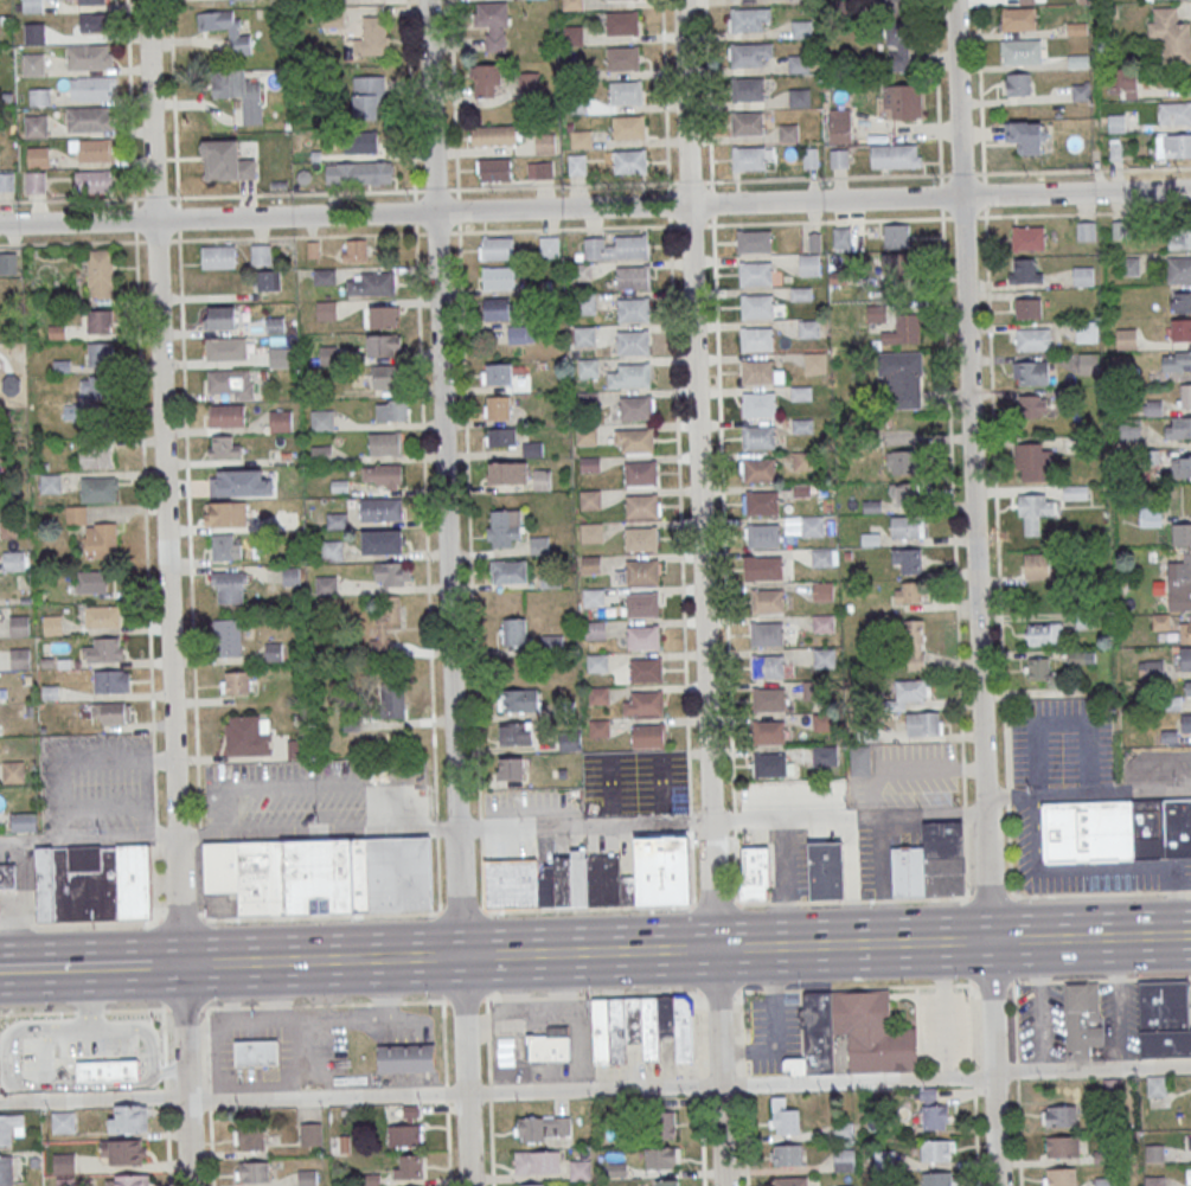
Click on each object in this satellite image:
building: (314, 0)
building: (800, 1)
building: (91, 2)
building: (572, 5)
building: (891, 5)
building: (33, 6)
building: (332, 19)
building: (747, 19)
building: (1017, 19)
building: (92, 21)
building: (621, 23)
building: (492, 24)
building: (801, 30)
building: (233, 32)
building: (34, 33)
building: (1171, 33)
building: (574, 36)
building: (898, 36)
building: (372, 37)
building: (1020, 51)
building: (745, 55)
building: (622, 57)
building: (89, 58)
building: (901, 60)
building: (1077, 60)
building: (33, 64)
building: (799, 64)
building: (484, 81)
building: (529, 81)
building: (1017, 84)
road: (980, 85)
building: (1128, 85)
building: (95, 88)
building: (748, 89)
building: (1080, 91)
building: (239, 92)
building: (626, 92)
building: (39, 97)
building: (369, 97)
road: (454, 98)
building: (800, 98)
road: (410, 100)
building: (903, 101)
road: (666, 103)
building: (577, 105)
road: (939, 108)
building: (1174, 114)
building: (83, 118)
building: (747, 123)
building: (36, 126)
building: (627, 127)
building: (839, 130)
building: (789, 134)
building: (493, 135)
building: (1025, 136)
building: (582, 140)
building: (360, 141)
building: (545, 143)
building: (1173, 146)
building: (91, 149)
building: (895, 155)
building: (38, 158)
building: (749, 158)
building: (838, 158)
building: (226, 161)
building: (629, 161)
building: (577, 165)
building: (495, 171)
building: (539, 171)
building: (359, 172)
road: (929, 174)
building: (6, 181)
building: (36, 181)
building: (92, 181)
road: (557, 185)
road: (435, 188)
road: (211, 195)
road: (595, 209)
road: (457, 210)
road: (415, 211)
road: (824, 220)
building: (1086, 230)
road: (436, 232)
road: (454, 232)
building: (896, 235)
building: (840, 238)
building: (1027, 238)
building: (1179, 238)
road: (212, 239)
building: (754, 241)
building: (549, 245)
building: (499, 248)
building: (616, 248)
building: (354, 250)
building: (261, 254)
building: (218, 256)
building: (8, 263)
building: (811, 265)
building: (1134, 265)
building: (1024, 270)
building: (100, 273)
building: (581, 273)
building: (756, 273)
building: (903, 273)
building: (324, 276)
building: (1083, 276)
building: (499, 277)
building: (633, 277)
building: (268, 280)
building: (370, 283)
building: (587, 304)
building: (758, 306)
building: (498, 308)
building: (633, 308)
building: (1027, 308)
building: (326, 310)
building: (384, 316)
building: (220, 318)
building: (98, 321)
building: (809, 329)
building: (903, 329)
building: (1180, 329)
building: (1087, 331)
building: (521, 334)
building: (584, 336)
building: (757, 338)
building: (1126, 338)
building: (1032, 339)
building: (633, 342)
building: (385, 345)
building: (226, 350)
building: (100, 354)
building: (278, 355)
building: (1177, 361)
building: (815, 364)
building: (1088, 364)
building: (589, 370)
building: (756, 372)
building: (1030, 372)
building: (497, 373)
building: (633, 376)
building: (382, 377)
building: (903, 378)
building: (231, 384)
building: (91, 386)
building: (801, 393)
building: (1185, 396)
building: (589, 402)
building: (757, 404)
building: (1032, 405)
building: (498, 406)
building: (635, 406)
building: (392, 410)
building: (83, 412)
building: (228, 416)
road: (185, 417)
road: (141, 418)
building: (280, 419)
building: (321, 419)
building: (1177, 427)
building: (1129, 429)
building: (587, 435)
building: (500, 436)
building: (758, 436)
building: (636, 440)
building: (385, 444)
building: (223, 447)
road: (722, 450)
building: (321, 454)
building: (95, 459)
building: (805, 461)
building: (1033, 462)
building: (902, 463)
building: (1180, 467)
road: (971, 469)
building: (758, 470)
building: (507, 472)
building: (641, 473)
building: (384, 475)
road: (443, 477)
building: (542, 480)
road: (164, 482)
building: (50, 483)
building: (98, 491)
building: (908, 491)
building: (1075, 492)
building: (590, 500)
building: (762, 502)
building: (642, 506)
building: (382, 511)
building: (1033, 512)
building: (229, 513)
building: (1150, 517)
road: (425, 520)
road: (468, 520)
building: (504, 527)
building: (813, 527)
building: (907, 527)
building: (1182, 530)
road: (997, 532)
building: (591, 533)
building: (763, 536)
building: (641, 538)
building: (101, 540)
building: (388, 543)
building: (539, 545)
building: (226, 546)
building: (332, 551)
road: (681, 556)
road: (955, 557)
building: (822, 558)
building: (13, 560)
building: (907, 560)
building: (591, 565)
building: (1036, 566)
building: (766, 568)
building: (508, 571)
building: (642, 571)
building: (392, 573)
building: (1184, 575)
building: (292, 576)
building: (91, 582)
building: (326, 584)
building: (230, 586)
building: (908, 591)
road: (702, 592)
building: (825, 592)
building: (594, 598)
building: (767, 600)
building: (641, 604)
building: (100, 615)
building: (52, 624)
building: (825, 624)
building: (19, 626)
building: (385, 627)
building: (514, 632)
building: (595, 632)
building: (1185, 632)
building: (767, 634)
building: (1044, 634)
building: (228, 637)
building: (642, 637)
building: (915, 645)
building: (103, 648)
building: (274, 653)
building: (19, 658)
building: (1185, 658)
building: (825, 659)
building: (597, 663)
building: (767, 666)
building: (1152, 667)
building: (1037, 668)
building: (646, 671)
building: (111, 681)
building: (235, 681)
building: (1187, 688)
building: (813, 690)
building: (909, 692)
building: (598, 695)
building: (768, 699)
building: (392, 700)
building: (518, 700)
building: (647, 703)
building: (111, 712)
building: (923, 723)
building: (1186, 724)
building: (600, 729)
building: (768, 732)
building: (514, 733)
building: (248, 735)
building: (648, 735)
building: (297, 749)
building: (825, 756)
building: (602, 761)
building: (860, 761)
building: (770, 764)
building: (512, 768)
building: (651, 768)
road: (910, 770)
building: (13, 771)
road: (1086, 794)
building: (20, 821)
road: (436, 826)
road: (480, 826)
road: (491, 828)
building: (1116, 829)
building: (930, 863)
building: (826, 871)
road: (481, 872)
building: (755, 872)
building: (322, 873)
road: (438, 874)
building: (7, 876)
road: (156, 879)
building: (91, 882)
building: (584, 884)
road: (838, 900)
building: (0, 910)
road: (460, 911)
road: (320, 916)
road: (180, 921)
road: (77, 923)
road: (670, 949)
road: (75, 967)
road: (696, 993)
road: (185, 1008)
road: (945, 1009)
road: (83, 1011)
building: (1082, 1020)
building: (1163, 1020)
building: (640, 1027)
building: (873, 1032)
building: (550, 1044)
building: (506, 1051)
building: (255, 1052)
building: (408, 1058)
building: (34, 1063)
road: (991, 1063)
building: (107, 1071)
road: (465, 1071)
road: (184, 1075)
road: (595, 1090)
road: (488, 1091)
road: (446, 1092)
road: (165, 1096)
road: (210, 1096)
building: (930, 1113)
building: (1058, 1115)
building: (128, 1117)
building: (783, 1117)
building: (63, 1121)
building: (664, 1124)
building: (11, 1128)
building: (543, 1129)
building: (310, 1134)
building: (405, 1135)
building: (249, 1137)
building: (1187, 1142)
building: (1062, 1147)
building: (936, 1150)
building: (123, 1152)
building: (787, 1155)
building: (661, 1156)
building: (844, 1160)
building: (64, 1162)
building: (537, 1162)
building: (408, 1166)
building: (580, 1169)
building: (6, 1171)
building: (254, 1171)
building: (1058, 1177)
building: (937, 1179)
building: (128, 1180)
building: (790, 1181)
building: (64, 1182)
building: (666, 1182)
building: (536, 1185)

